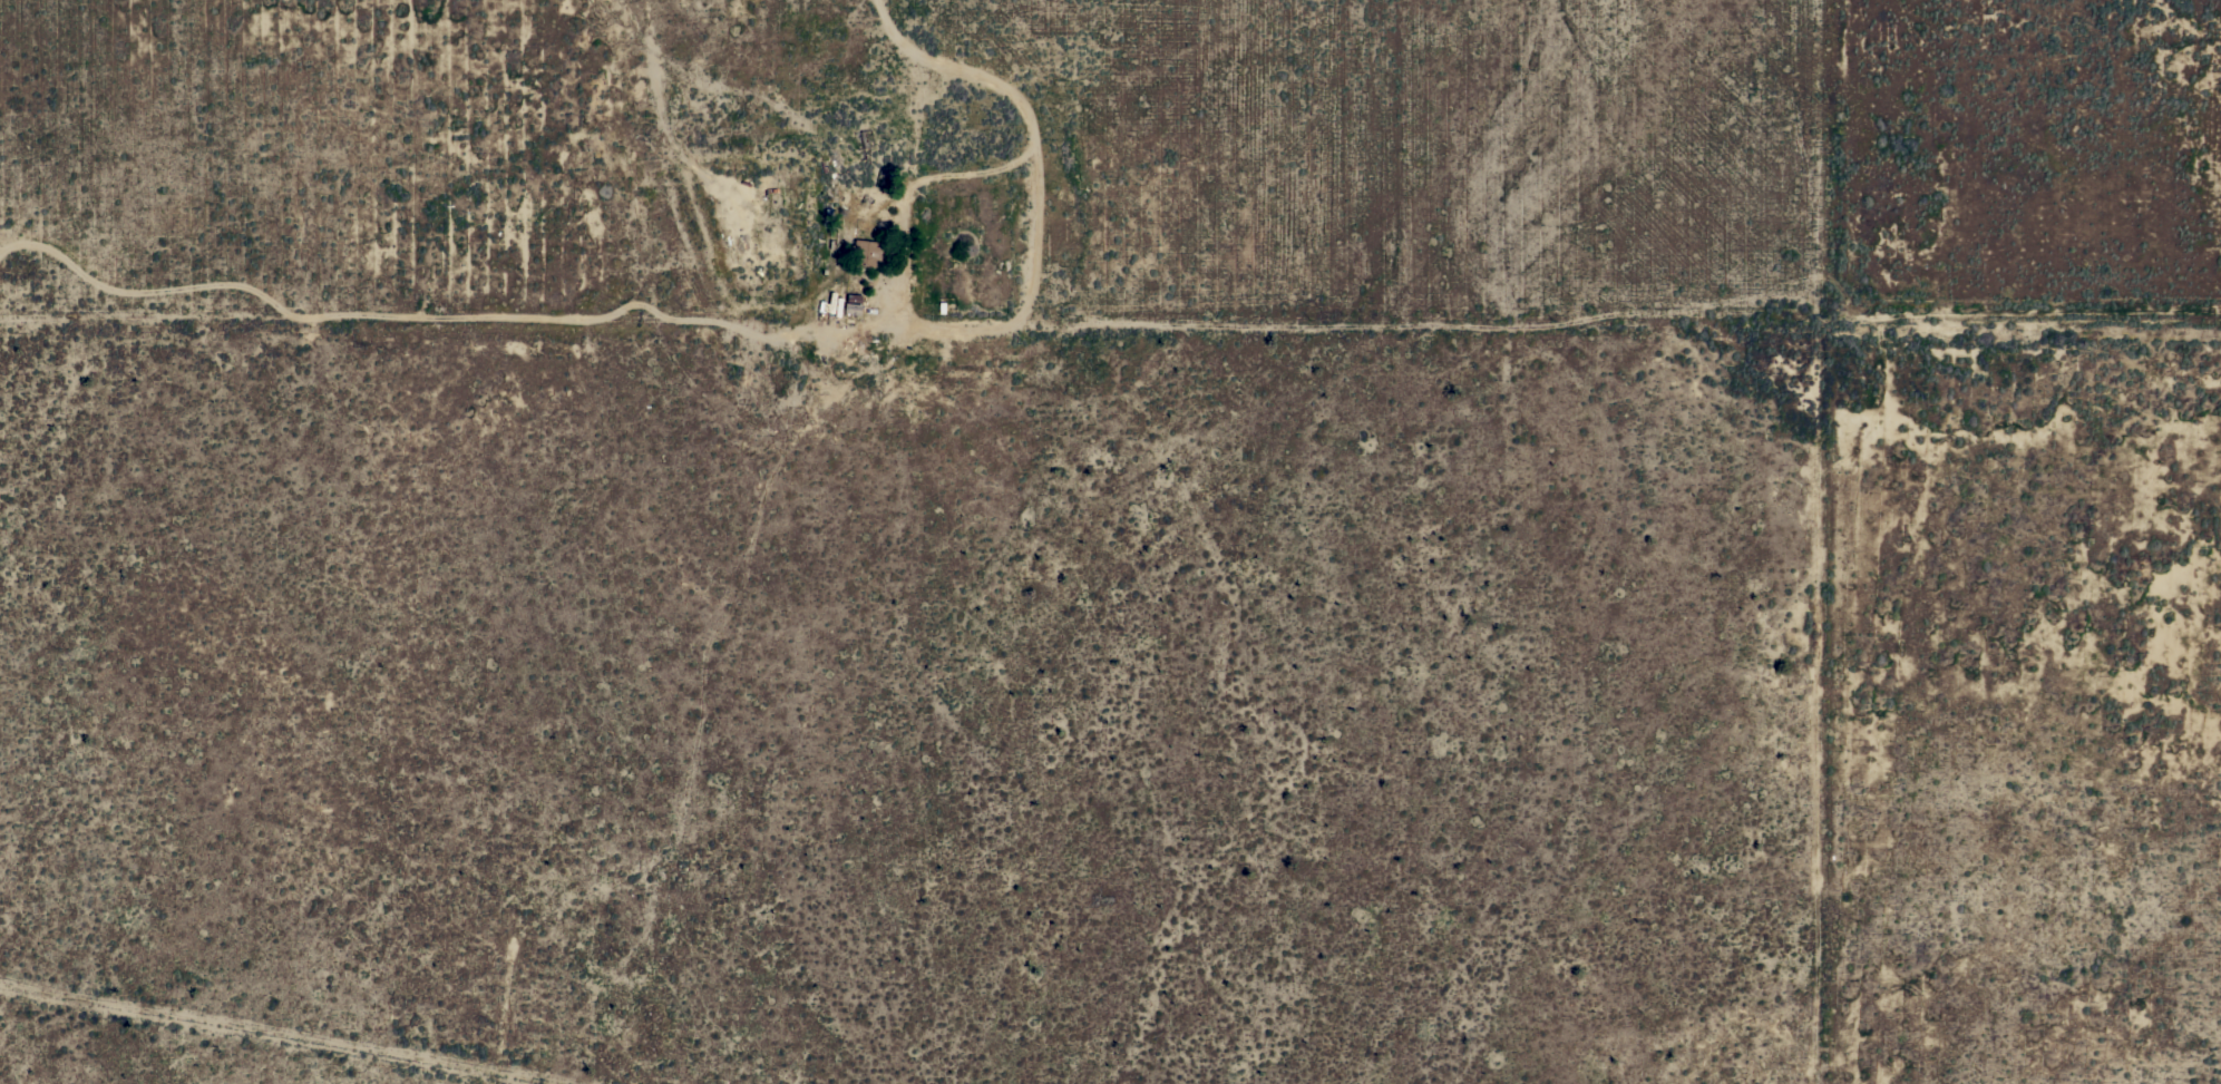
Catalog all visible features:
road: (973, 69)
building: (864, 252)
building: (849, 307)
road: (477, 318)
road: (928, 319)
road: (1634, 319)
road: (1478, 541)
road: (277, 1034)

